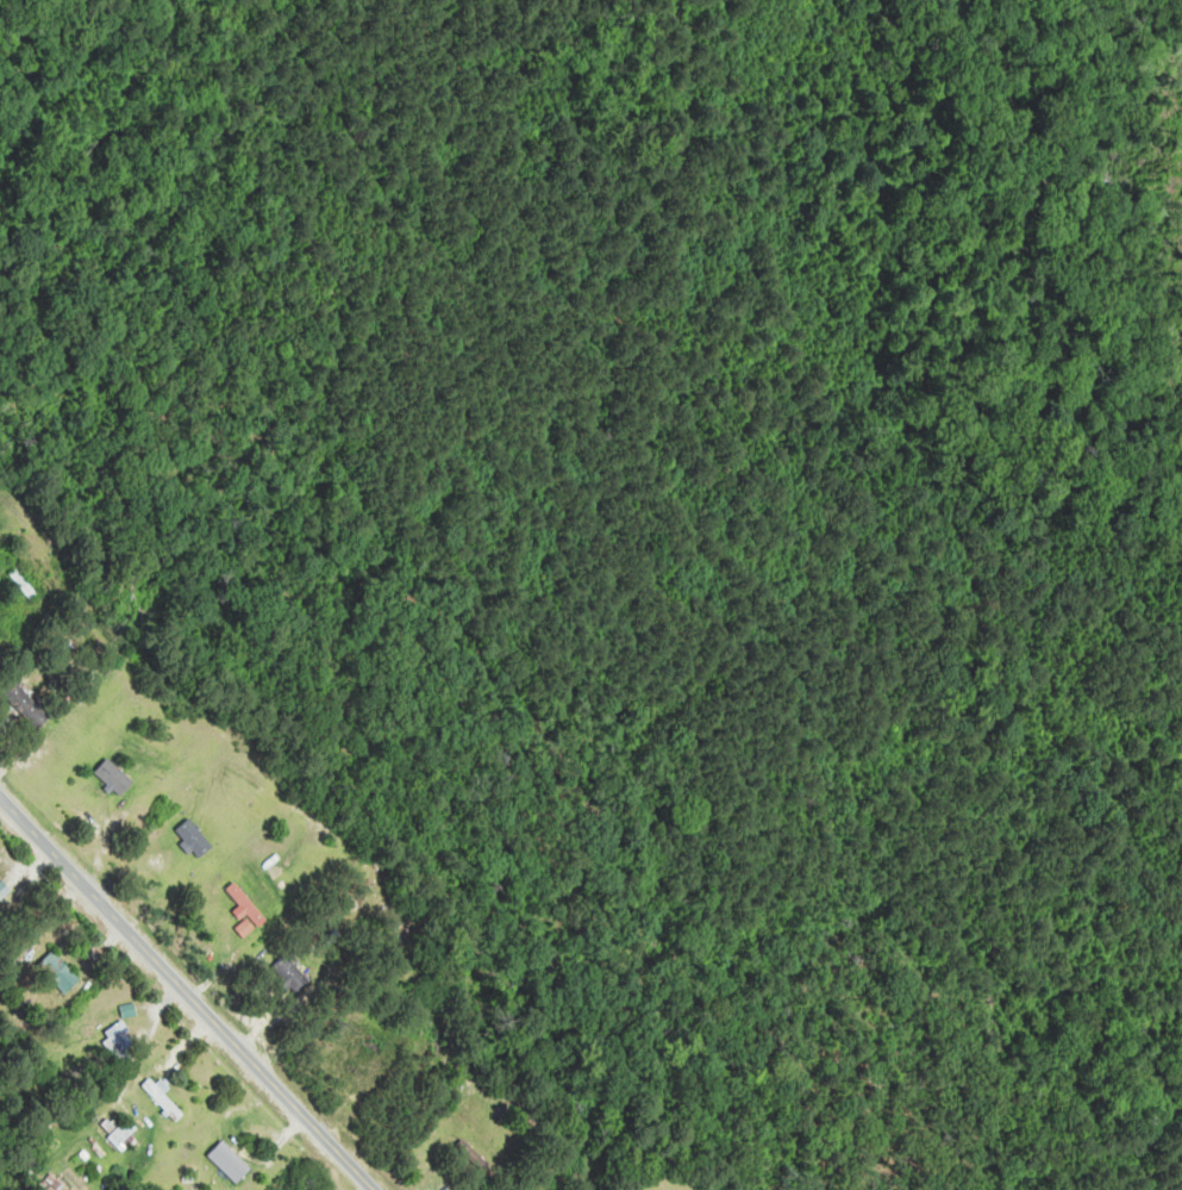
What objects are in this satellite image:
building: (24, 705)
building: (113, 779)
building: (193, 840)
building: (244, 905)
building: (58, 972)
building: (290, 973)
road: (187, 992)
building: (119, 1040)
building: (161, 1098)
building: (120, 1136)
building: (471, 1158)
building: (229, 1161)

